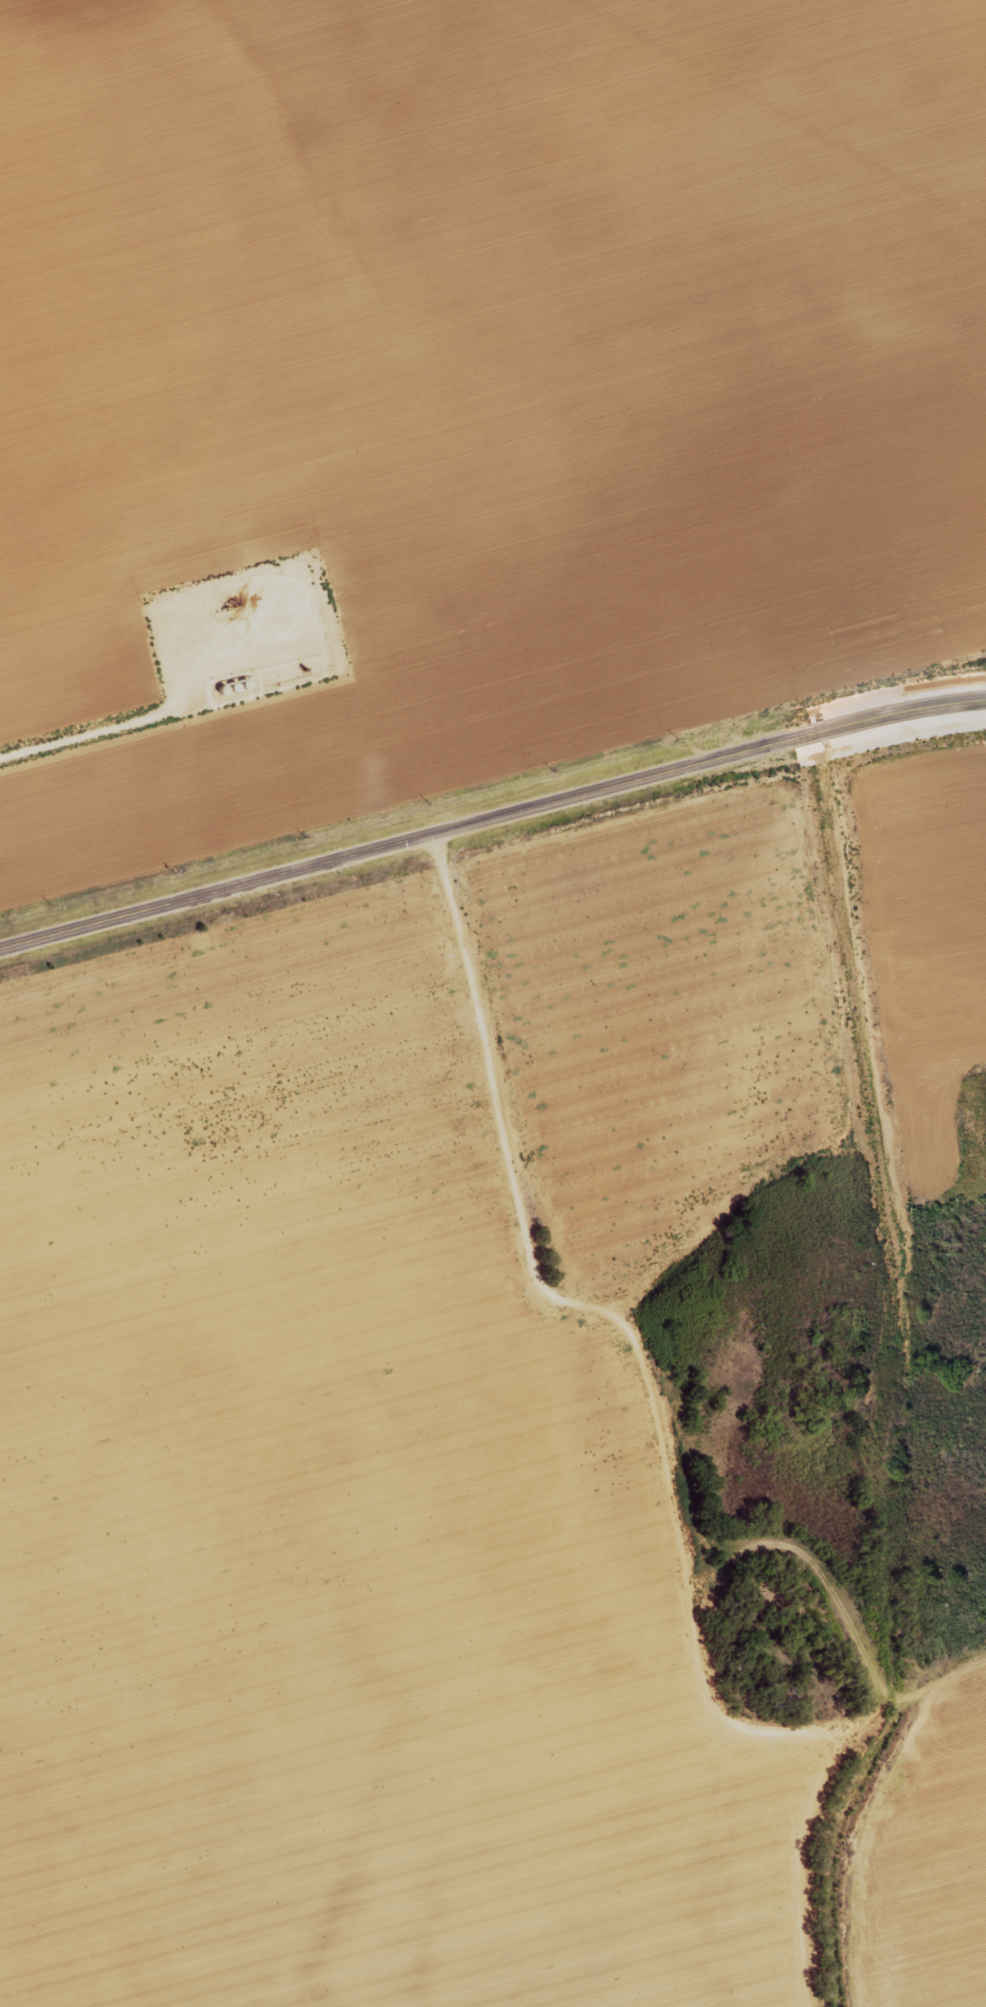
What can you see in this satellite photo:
road: (493, 828)
road: (576, 1389)

